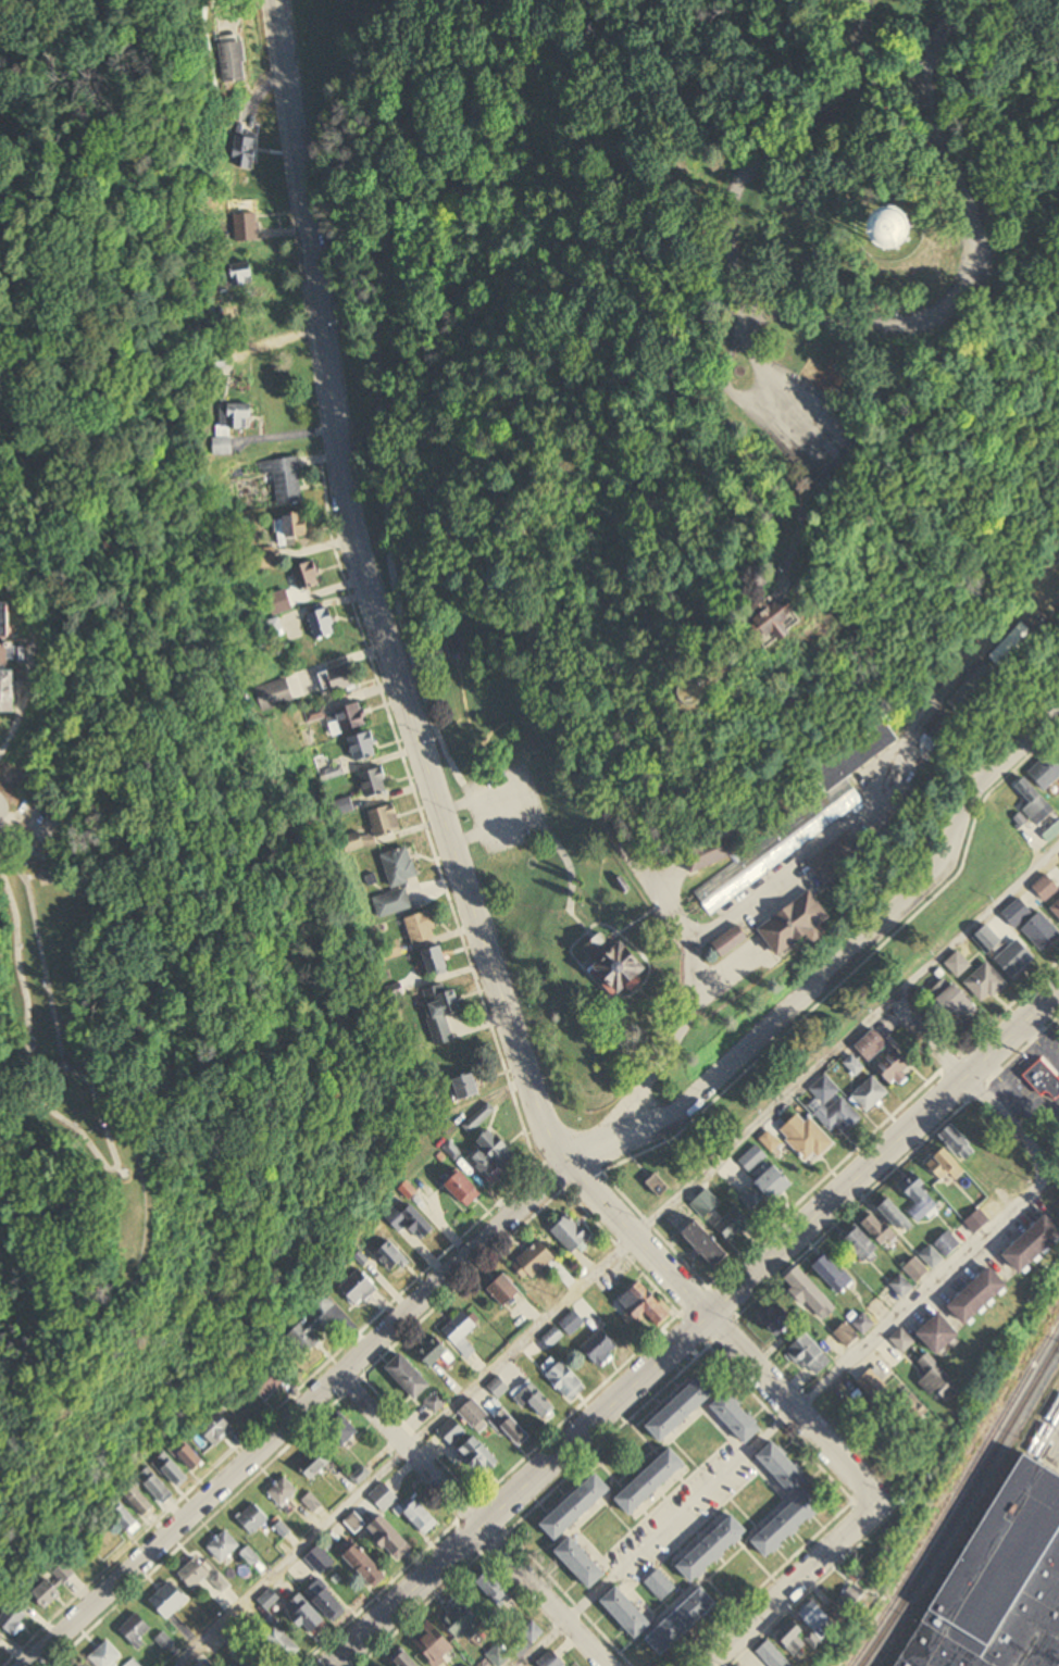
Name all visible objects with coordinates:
building: (235, 61)
building: (246, 150)
building: (910, 225)
water tower: (886, 226)
building: (247, 228)
building: (245, 276)
road: (749, 315)
road: (849, 322)
road: (745, 393)
road: (378, 402)
road: (799, 415)
building: (238, 417)
building: (892, 421)
parking lot: (811, 424)
building: (224, 447)
park: (690, 476)
building: (285, 479)
building: (296, 525)
building: (266, 558)
building: (307, 575)
road: (800, 589)
road: (366, 594)
building: (792, 616)
building: (8, 621)
building: (323, 624)
building: (272, 629)
building: (1017, 644)
building: (9, 654)
building: (339, 679)
building: (975, 688)
building: (10, 690)
building: (274, 696)
building: (315, 715)
building: (347, 719)
building: (946, 728)
building: (363, 747)
building: (851, 763)
building: (1047, 772)
building: (374, 782)
road: (525, 799)
building: (1035, 803)
parking lot: (503, 810)
building: (385, 822)
building: (359, 842)
building: (710, 853)
building: (400, 867)
building: (742, 875)
building: (1031, 902)
building: (1055, 902)
building: (393, 903)
building: (799, 924)
building: (422, 928)
building: (1038, 935)
building: (986, 939)
building: (733, 941)
building: (1013, 956)
building: (437, 961)
building: (623, 964)
building: (958, 965)
building: (984, 982)
building: (956, 1005)
building: (441, 1014)
road: (930, 1038)
building: (873, 1045)
building: (887, 1060)
building: (1042, 1081)
building: (861, 1085)
building: (468, 1086)
building: (835, 1107)
building: (478, 1118)
road: (1013, 1126)
building: (806, 1138)
building: (958, 1141)
building: (493, 1156)
building: (938, 1163)
road: (548, 1179)
building: (659, 1186)
building: (767, 1189)
building: (465, 1190)
building: (919, 1201)
building: (706, 1204)
building: (409, 1223)
building: (887, 1223)
building: (734, 1225)
building: (572, 1236)
building: (860, 1243)
building: (948, 1244)
building: (708, 1245)
building: (1036, 1245)
road: (615, 1254)
building: (393, 1258)
building: (537, 1260)
building: (834, 1275)
building: (359, 1288)
building: (809, 1291)
building: (504, 1292)
road: (925, 1298)
building: (982, 1298)
building: (645, 1306)
building: (777, 1317)
building: (571, 1323)
building: (863, 1324)
road: (694, 1325)
building: (314, 1327)
building: (462, 1331)
building: (847, 1335)
road: (723, 1336)
building: (942, 1336)
building: (553, 1338)
building: (902, 1341)
building: (601, 1348)
building: (435, 1353)
building: (810, 1355)
building: (410, 1377)
building: (270, 1380)
building: (940, 1380)
building: (566, 1381)
building: (873, 1383)
building: (498, 1388)
building: (534, 1399)
building: (436, 1402)
building: (684, 1408)
building: (915, 1412)
building: (475, 1416)
building: (738, 1418)
building: (216, 1428)
building: (512, 1428)
building: (345, 1431)
building: (453, 1431)
building: (191, 1456)
building: (474, 1460)
building: (315, 1464)
building: (785, 1468)
building: (172, 1470)
building: (652, 1482)
building: (157, 1486)
building: (283, 1492)
railway: (956, 1493)
building: (384, 1496)
building: (140, 1501)
railway: (961, 1502)
building: (577, 1507)
road: (475, 1515)
building: (423, 1517)
building: (126, 1518)
building: (253, 1519)
building: (356, 1523)
building: (789, 1524)
building: (391, 1538)
building: (224, 1546)
building: (714, 1550)
building: (250, 1556)
building: (321, 1561)
building: (582, 1564)
building: (366, 1566)
building: (195, 1575)
building: (220, 1583)
building: (1002, 1584)
building: (55, 1586)
building: (494, 1586)
building: (661, 1586)
road: (799, 1588)
building: (854, 1600)
building: (170, 1601)
building: (328, 1602)
building: (265, 1604)
building: (627, 1614)
building: (309, 1616)
building: (13, 1619)
building: (460, 1619)
building: (684, 1623)
building: (136, 1631)
building: (812, 1631)
building: (1, 1640)
building: (283, 1643)
building: (433, 1644)
road: (553, 1646)
building: (108, 1655)
building: (774, 1656)
building: (498, 1657)
building: (404, 1659)
building: (550, 1661)
building: (133, 1663)
building: (196, 1665)

